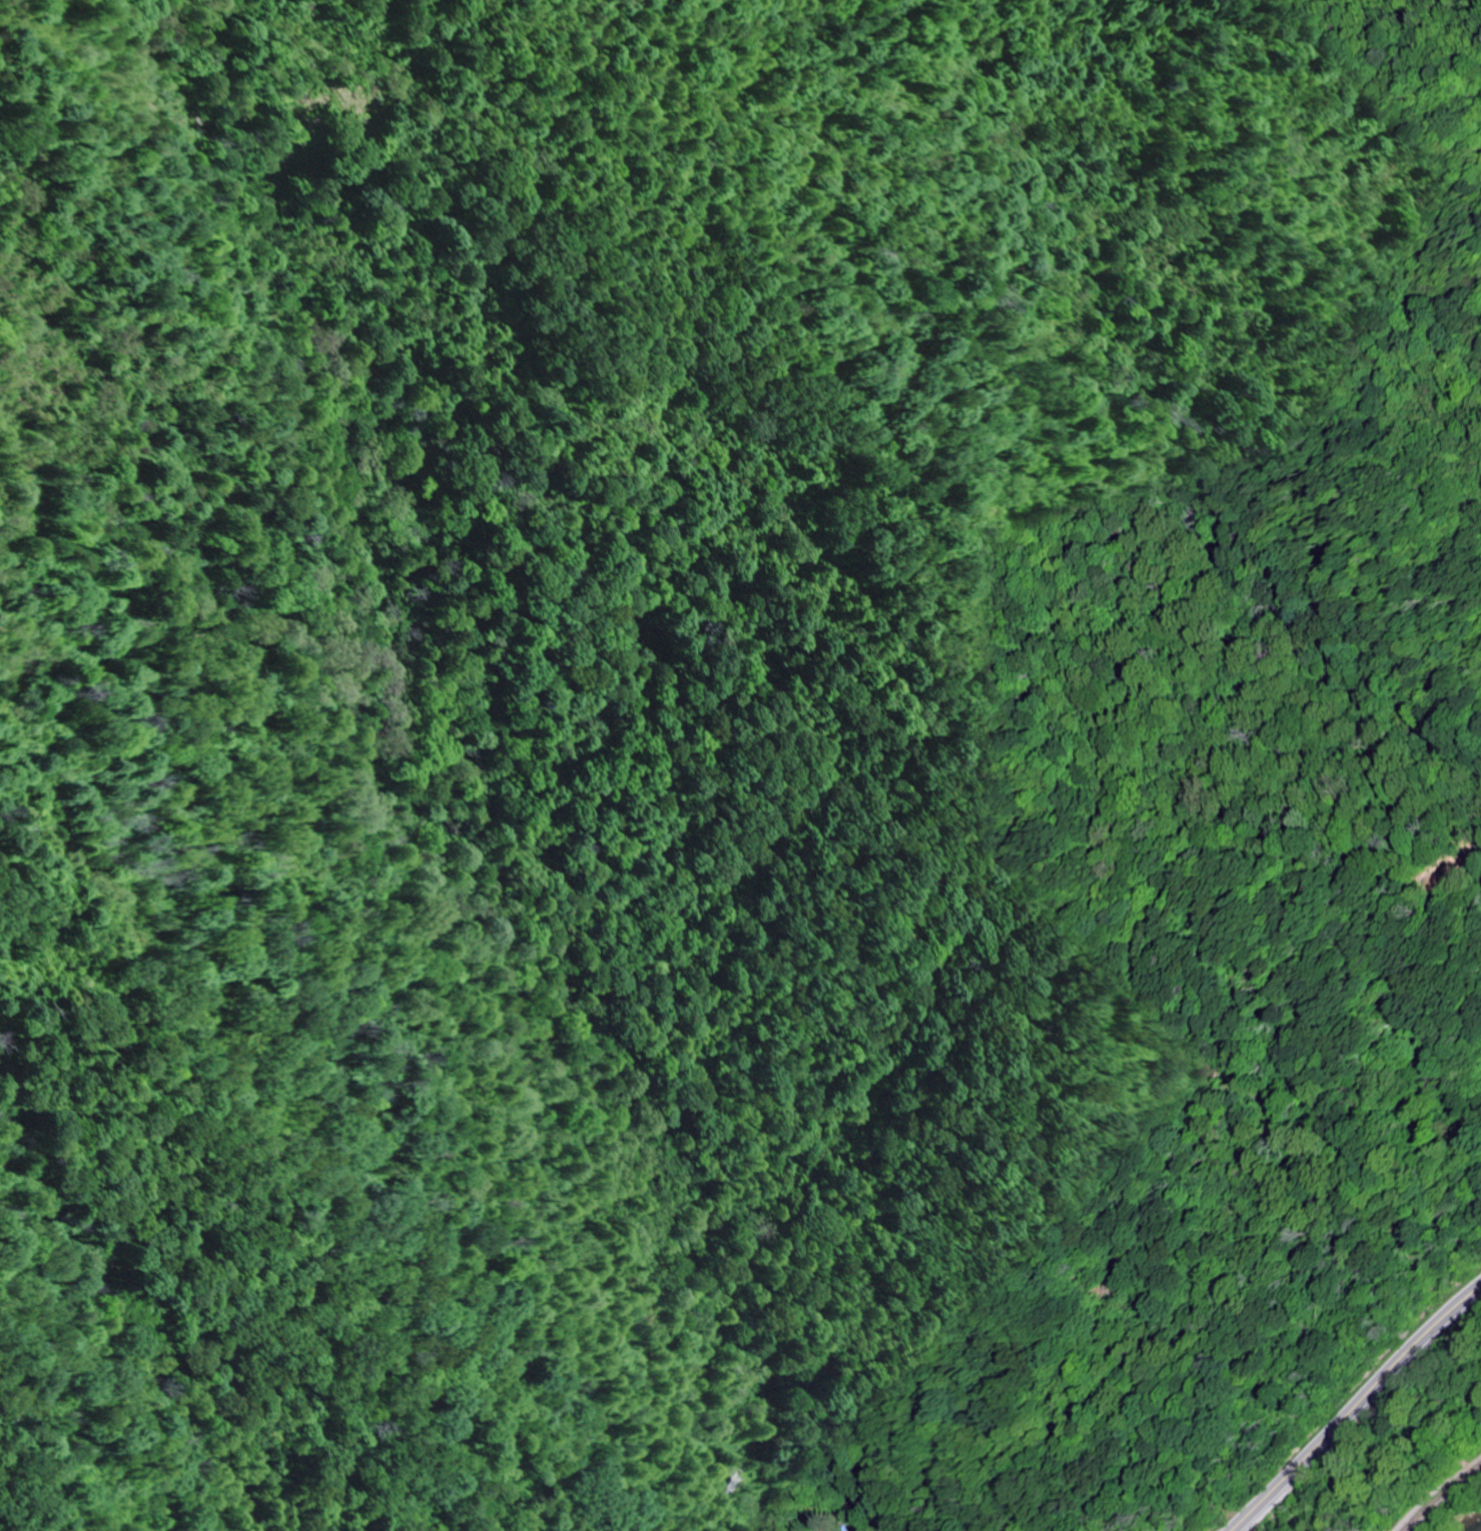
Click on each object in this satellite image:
road: (1358, 1411)
railway: (1438, 1492)
river: (1480, 1530)

